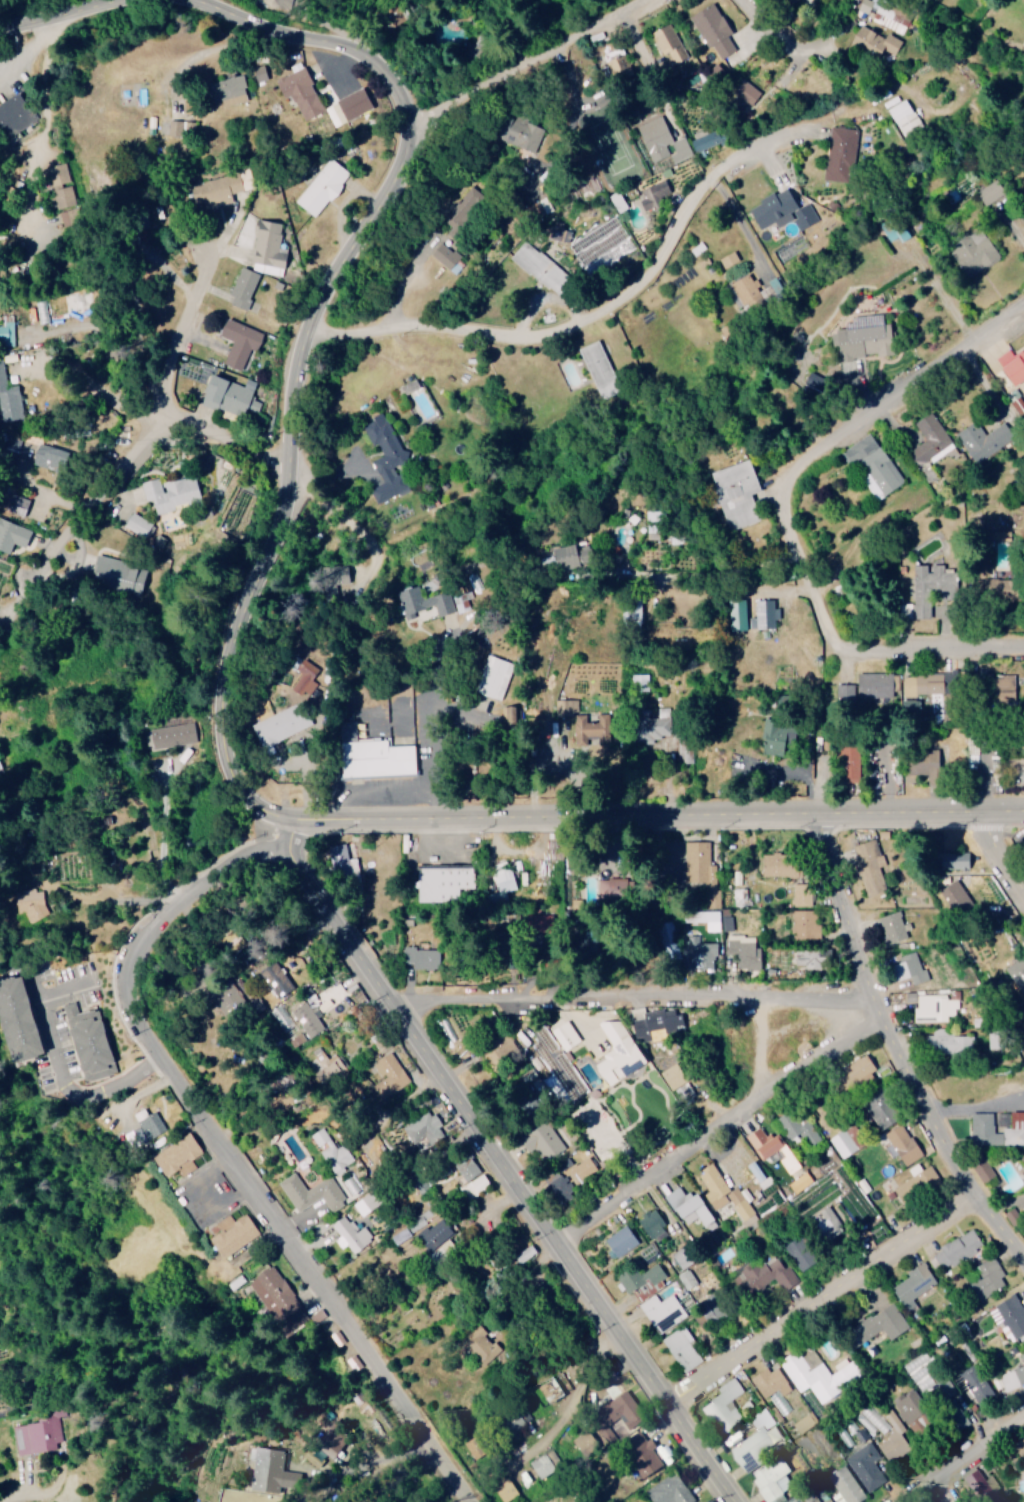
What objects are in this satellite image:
building: (793, 2)
road: (219, 3)
building: (883, 15)
road: (54, 23)
building: (715, 31)
road: (772, 32)
building: (877, 42)
building: (670, 44)
road: (533, 49)
road: (12, 50)
building: (620, 65)
building: (230, 91)
building: (748, 92)
building: (302, 93)
building: (356, 104)
building: (14, 114)
building: (904, 117)
road: (45, 129)
building: (182, 129)
building: (656, 137)
building: (704, 143)
building: (681, 149)
building: (840, 153)
building: (59, 174)
building: (324, 186)
building: (218, 190)
building: (989, 193)
building: (653, 194)
building: (65, 197)
building: (619, 200)
building: (542, 207)
building: (786, 212)
building: (268, 248)
building: (976, 251)
building: (446, 255)
building: (729, 259)
building: (542, 268)
building: (244, 287)
road: (640, 289)
building: (744, 292)
road: (184, 332)
building: (7, 333)
building: (241, 341)
road: (311, 342)
building: (863, 343)
building: (1013, 365)
building: (599, 369)
building: (1022, 385)
building: (406, 388)
building: (228, 397)
building: (10, 402)
road: (145, 418)
building: (930, 439)
building: (985, 439)
road: (825, 448)
building: (53, 457)
building: (386, 457)
building: (874, 465)
road: (116, 482)
building: (173, 493)
building: (739, 493)
building: (18, 504)
building: (655, 515)
building: (138, 525)
building: (653, 532)
building: (13, 534)
building: (577, 553)
building: (338, 572)
building: (424, 602)
building: (635, 613)
building: (766, 614)
building: (740, 615)
road: (339, 622)
road: (935, 656)
building: (496, 677)
building: (926, 684)
building: (875, 685)
building: (1004, 687)
building: (845, 693)
building: (282, 724)
building: (595, 730)
building: (170, 736)
building: (777, 737)
building: (685, 748)
building: (376, 755)
building: (850, 763)
road: (652, 822)
building: (344, 855)
road: (1001, 857)
building: (962, 859)
building: (782, 865)
building: (702, 870)
building: (445, 883)
building: (612, 888)
building: (956, 895)
building: (742, 896)
building: (30, 903)
building: (805, 911)
building: (704, 918)
building: (727, 919)
building: (893, 927)
building: (746, 950)
building: (698, 953)
building: (423, 957)
building: (816, 957)
building: (910, 969)
building: (1018, 973)
building: (277, 979)
road: (638, 999)
building: (929, 1007)
building: (70, 1009)
building: (321, 1015)
building: (21, 1019)
building: (653, 1024)
building: (567, 1035)
building: (948, 1043)
building: (93, 1045)
road: (895, 1055)
building: (633, 1056)
building: (331, 1063)
building: (862, 1069)
building: (388, 1076)
building: (687, 1091)
road: (400, 1106)
building: (883, 1110)
building: (150, 1123)
building: (798, 1126)
building: (997, 1128)
road: (717, 1130)
building: (425, 1131)
building: (544, 1141)
building: (843, 1144)
building: (905, 1144)
building: (775, 1149)
building: (333, 1151)
building: (180, 1155)
road: (228, 1156)
building: (1023, 1160)
road: (505, 1164)
building: (468, 1167)
building: (985, 1171)
building: (760, 1173)
building: (481, 1182)
building: (560, 1186)
building: (912, 1188)
building: (313, 1193)
building: (726, 1195)
building: (820, 1195)
building: (695, 1211)
building: (654, 1226)
building: (235, 1234)
building: (351, 1234)
building: (438, 1236)
building: (622, 1240)
building: (955, 1251)
building: (802, 1252)
building: (685, 1256)
building: (765, 1275)
building: (988, 1278)
building: (644, 1281)
building: (691, 1284)
building: (915, 1284)
building: (278, 1297)
road: (822, 1304)
building: (663, 1312)
building: (1009, 1315)
building: (882, 1324)
building: (683, 1349)
road: (590, 1351)
building: (355, 1362)
building: (818, 1374)
building: (770, 1382)
building: (976, 1383)
building: (555, 1391)
building: (724, 1406)
building: (621, 1409)
building: (916, 1412)
building: (796, 1413)
building: (32, 1438)
building: (585, 1441)
building: (1021, 1442)
building: (330, 1445)
building: (893, 1445)
building: (753, 1447)
building: (642, 1452)
road: (965, 1462)
building: (543, 1463)
building: (867, 1465)
building: (266, 1469)
building: (770, 1477)
building: (846, 1484)
building: (984, 1487)
building: (506, 1488)
building: (670, 1489)
road: (924, 1497)
building: (818, 1498)

